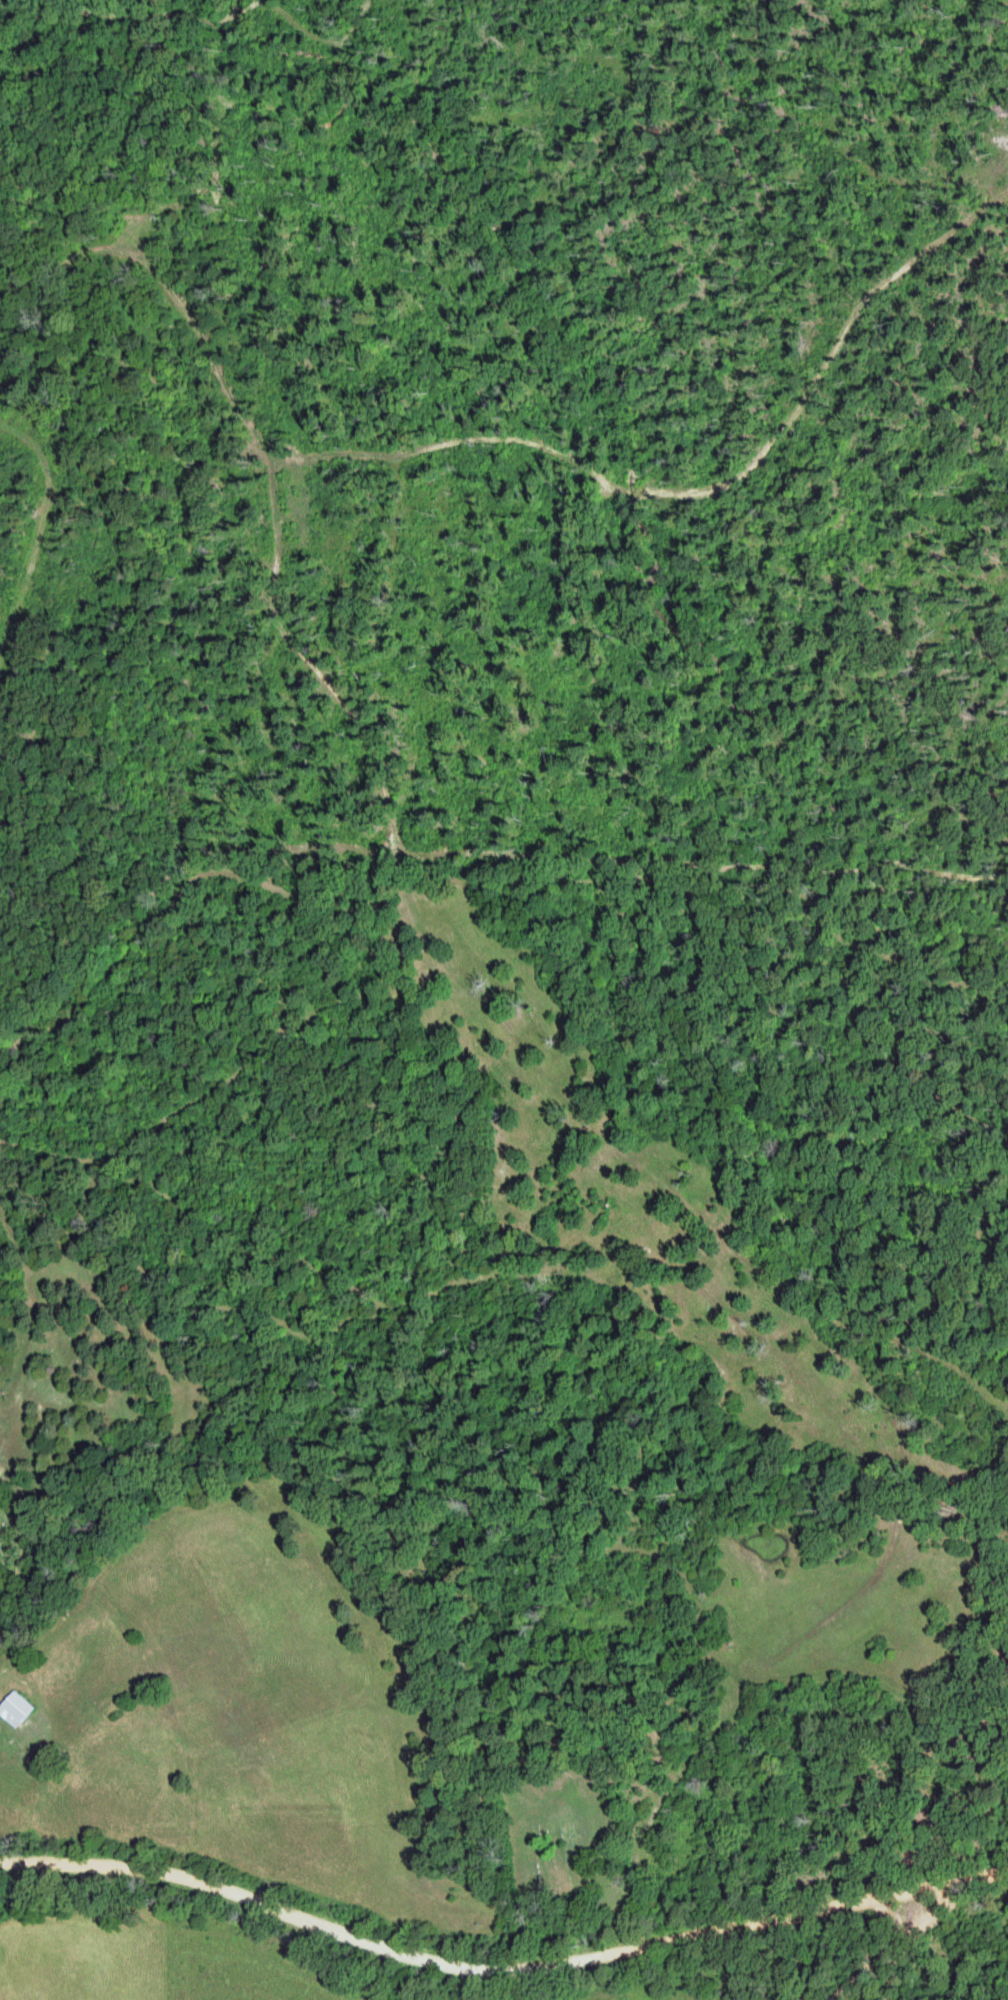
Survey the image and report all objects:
road: (229, 1610)
park: (556, 1816)
road: (501, 1949)

